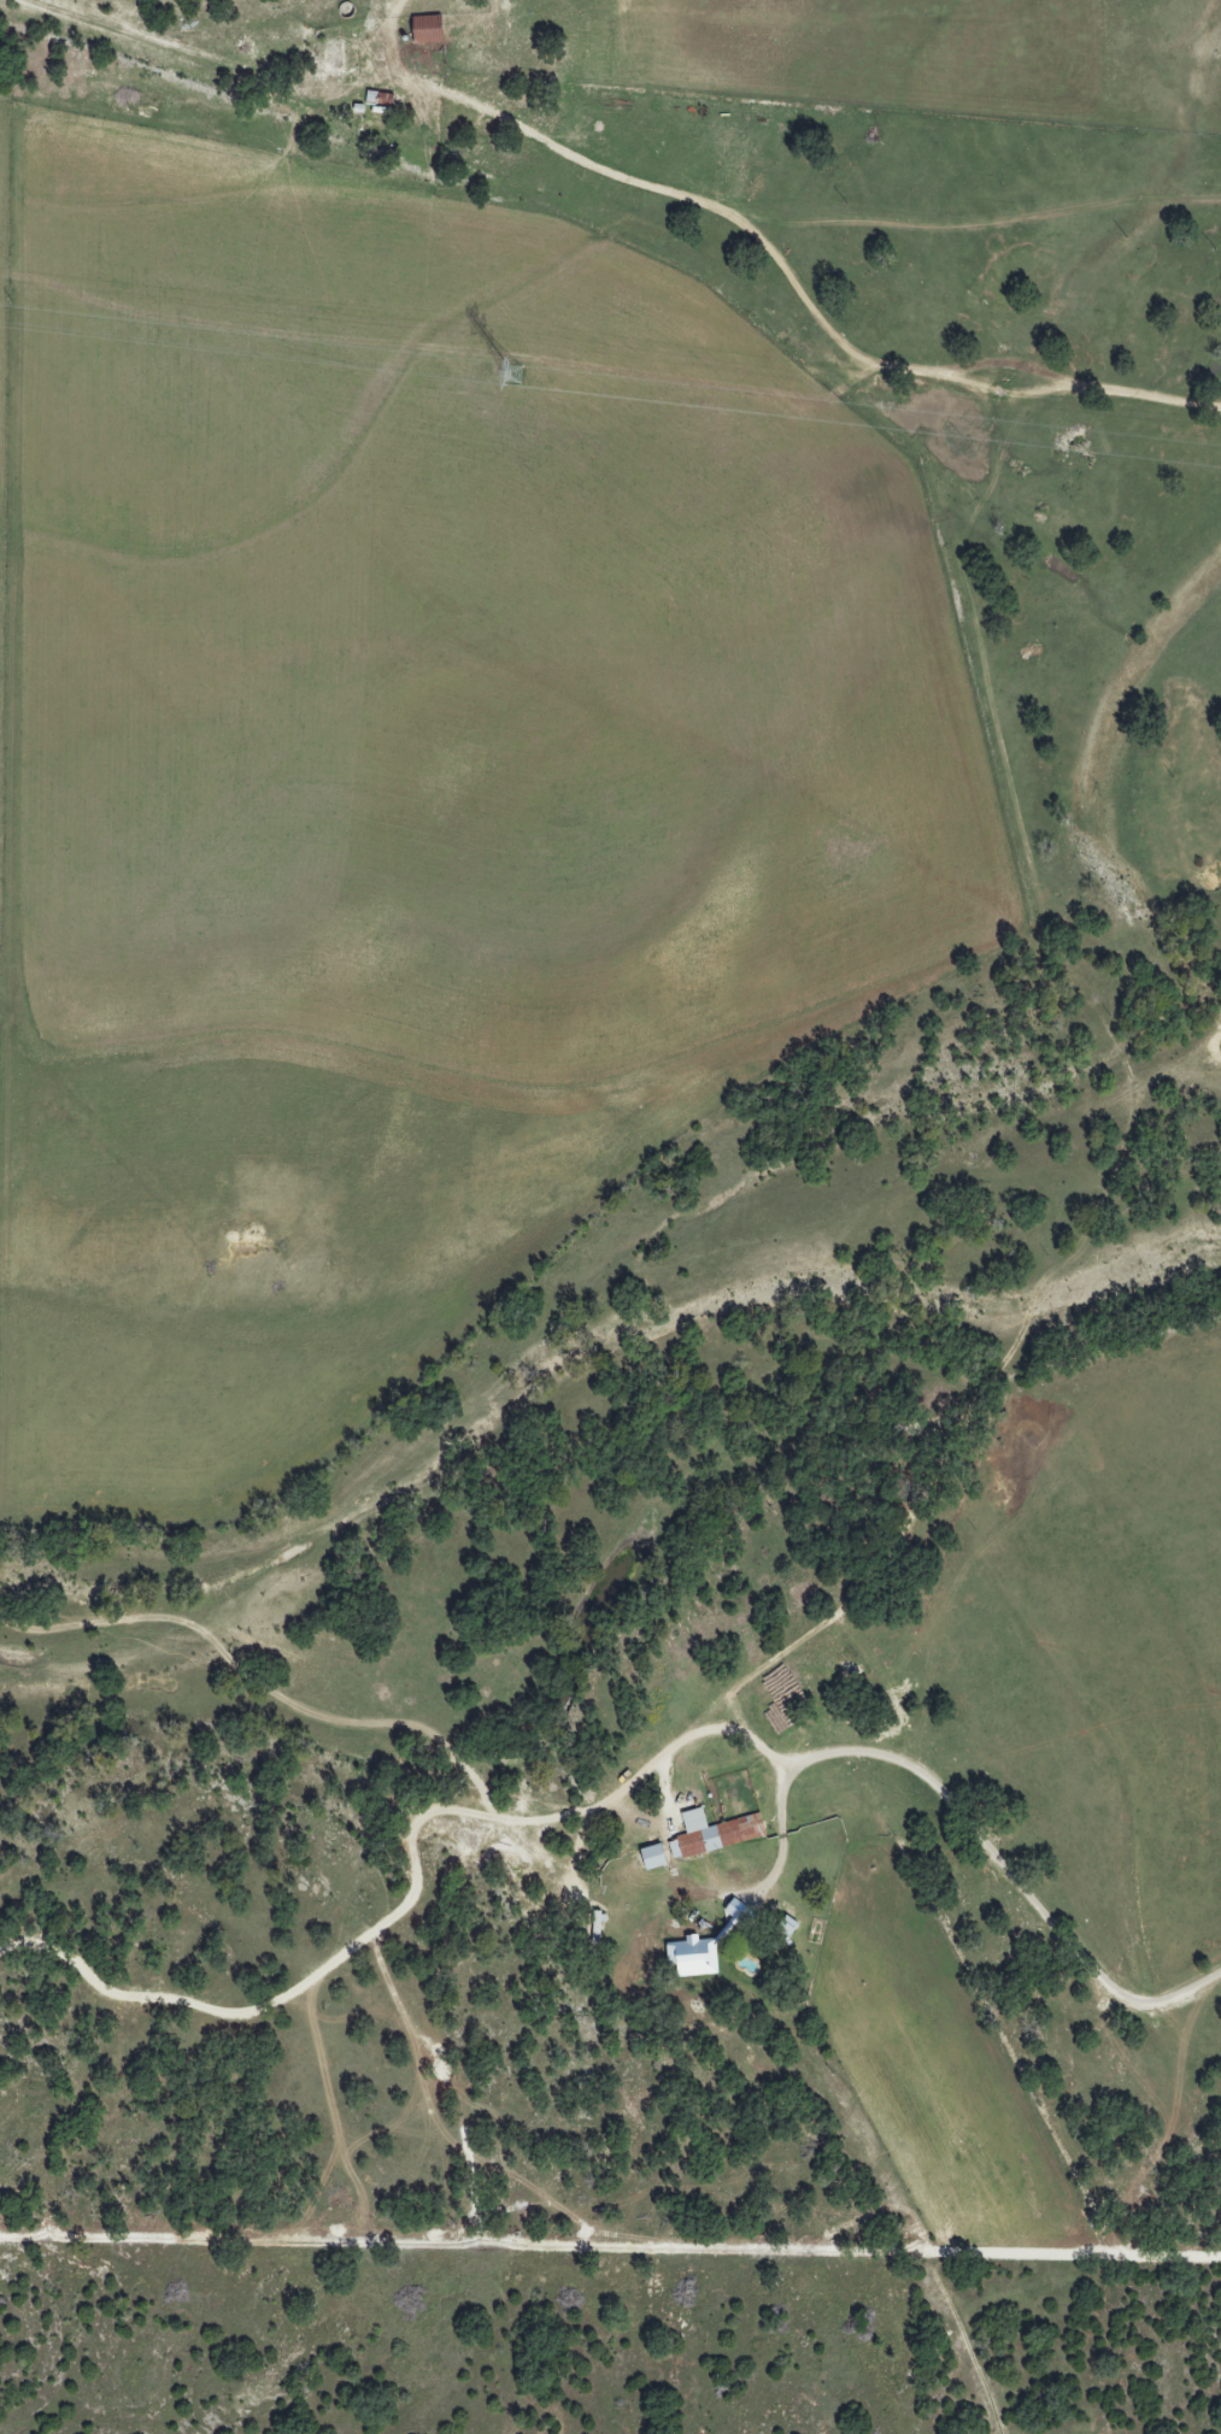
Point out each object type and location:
building: (434, 30)
road: (377, 74)
power tower: (510, 377)
road: (961, 1813)
building: (718, 1834)
building: (658, 1857)
road: (413, 1880)
building: (697, 1957)

